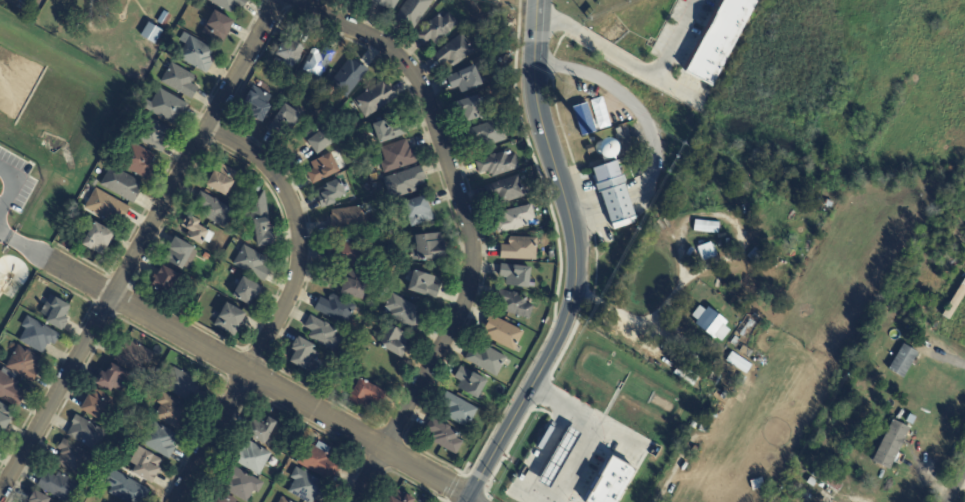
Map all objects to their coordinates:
building: (356, 0)
building: (230, 4)
building: (388, 4)
building: (678, 5)
building: (196, 8)
building: (413, 12)
building: (164, 20)
building: (219, 28)
building: (437, 30)
building: (151, 35)
building: (481, 39)
building: (718, 40)
building: (455, 52)
building: (290, 54)
building: (202, 59)
road: (637, 63)
building: (314, 67)
building: (350, 77)
building: (466, 81)
building: (180, 82)
building: (375, 100)
building: (582, 107)
building: (167, 108)
building: (257, 110)
building: (469, 110)
building: (602, 114)
building: (568, 120)
building: (285, 123)
building: (588, 128)
building: (389, 131)
building: (487, 135)
building: (154, 136)
road: (648, 136)
building: (319, 140)
building: (590, 150)
building: (399, 158)
building: (139, 162)
building: (499, 165)
building: (323, 169)
building: (609, 179)
building: (94, 184)
building: (405, 184)
road: (11, 185)
building: (220, 185)
building: (122, 186)
building: (256, 189)
building: (505, 191)
building: (331, 195)
building: (108, 209)
building: (212, 212)
building: (419, 213)
building: (349, 220)
building: (516, 220)
building: (705, 226)
road: (468, 228)
building: (197, 233)
building: (391, 233)
building: (264, 235)
road: (12, 238)
building: (96, 240)
building: (247, 242)
building: (65, 245)
road: (138, 248)
building: (431, 250)
building: (520, 250)
building: (705, 251)
building: (352, 253)
building: (179, 255)
road: (575, 261)
building: (952, 262)
building: (253, 265)
building: (517, 278)
building: (165, 283)
building: (356, 287)
building: (424, 287)
building: (247, 294)
road: (285, 306)
building: (514, 306)
building: (336, 310)
building: (55, 312)
building: (403, 313)
building: (195, 316)
building: (230, 322)
building: (712, 325)
building: (503, 334)
building: (37, 335)
building: (324, 335)
building: (736, 343)
building: (396, 344)
building: (696, 351)
building: (747, 353)
building: (133, 355)
building: (304, 357)
building: (487, 361)
building: (903, 361)
building: (737, 362)
building: (24, 363)
building: (693, 363)
road: (252, 373)
building: (113, 379)
building: (688, 380)
building: (181, 385)
building: (471, 385)
building: (10, 388)
building: (367, 397)
building: (96, 403)
building: (171, 411)
building: (459, 412)
building: (713, 413)
building: (5, 417)
building: (262, 430)
building: (87, 434)
building: (133, 434)
building: (445, 438)
building: (160, 440)
building: (293, 440)
building: (0, 441)
building: (129, 441)
building: (891, 445)
building: (295, 456)
building: (74, 457)
building: (557, 457)
building: (253, 458)
building: (319, 461)
building: (146, 465)
road: (568, 480)
building: (826, 480)
building: (609, 481)
building: (242, 484)
building: (60, 486)
building: (306, 486)
building: (125, 488)
road: (960, 492)
building: (805, 495)
building: (39, 498)
building: (402, 498)
road: (543, 498)
building: (223, 499)
building: (553, 499)
building: (285, 500)

